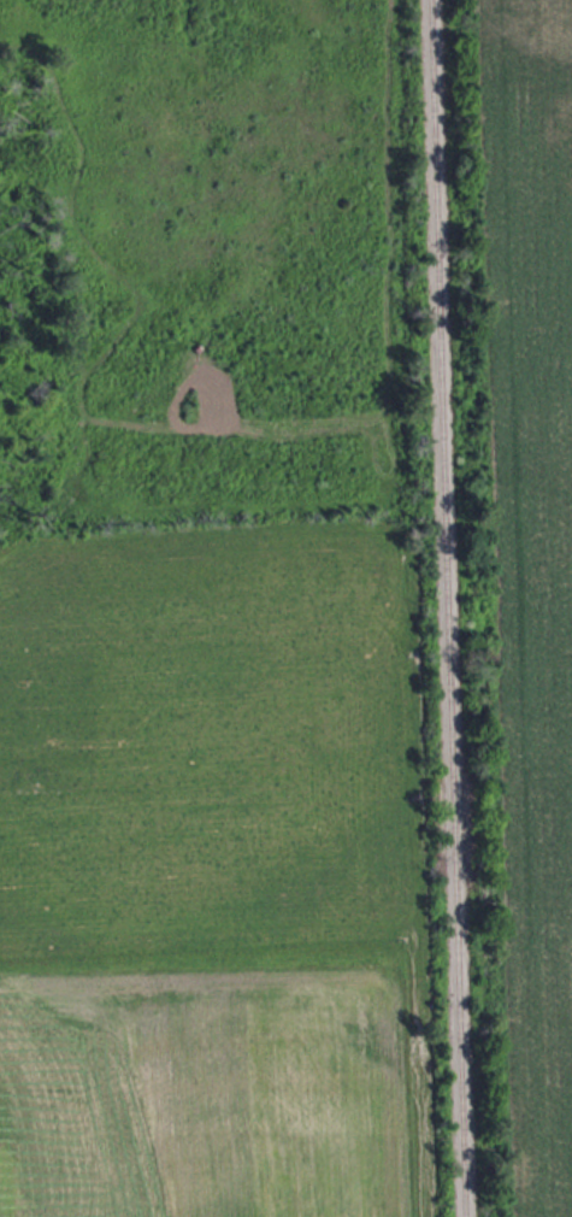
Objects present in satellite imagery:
railway: (449, 607)

